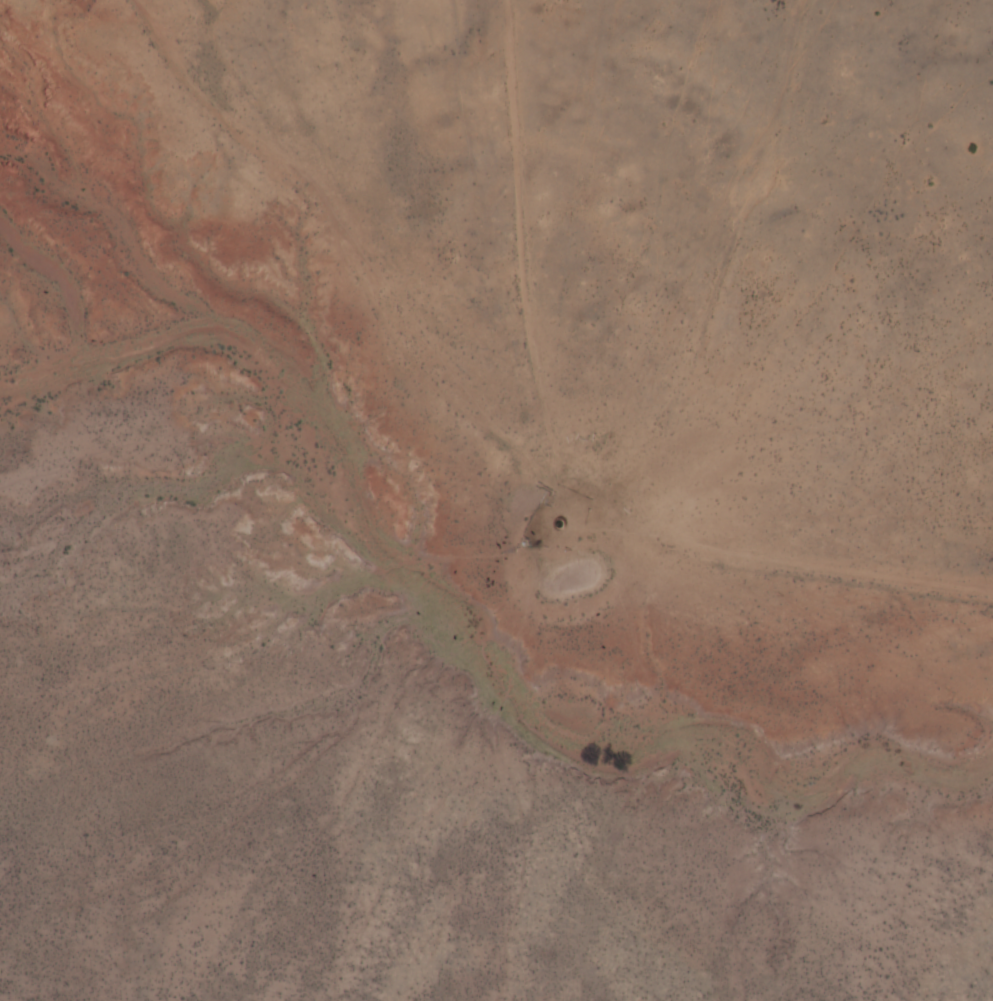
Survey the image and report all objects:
road: (730, 277)
road: (418, 451)

